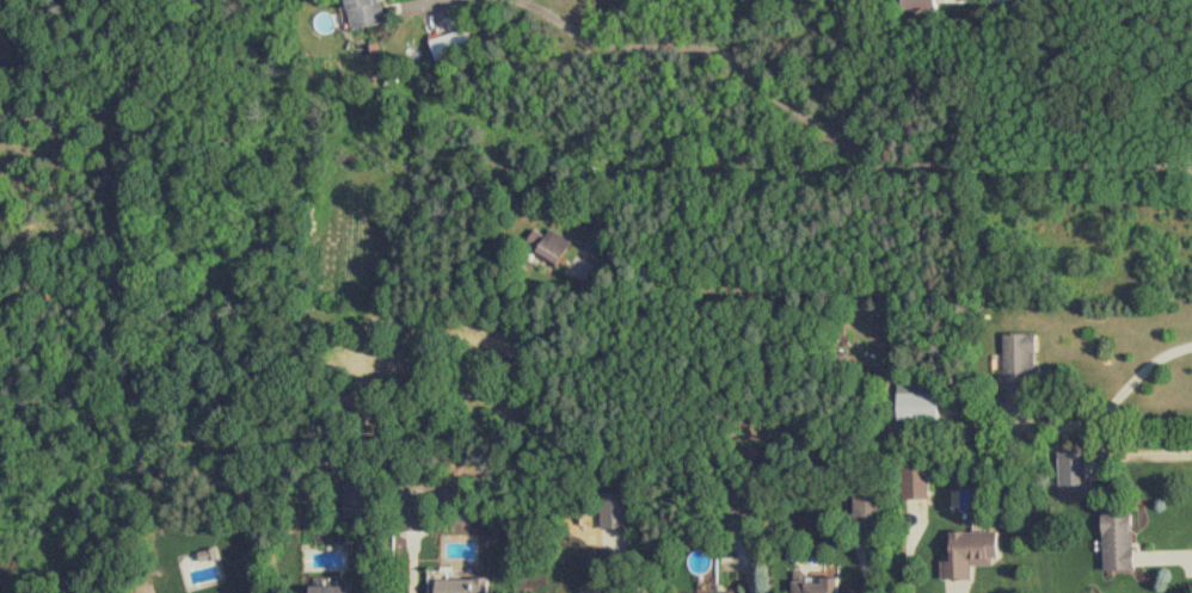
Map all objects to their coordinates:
road: (425, 0)
building: (916, 5)
building: (361, 13)
road: (834, 126)
road: (1178, 163)
road: (739, 187)
building: (546, 246)
building: (651, 271)
building: (1016, 363)
road: (1130, 387)
building: (916, 408)
road: (1148, 451)
building: (1073, 471)
building: (735, 500)
building: (614, 511)
building: (866, 511)
building: (411, 512)
building: (1118, 542)
building: (969, 552)
road: (749, 569)
building: (461, 585)
building: (816, 586)
building: (327, 589)
building: (702, 592)

